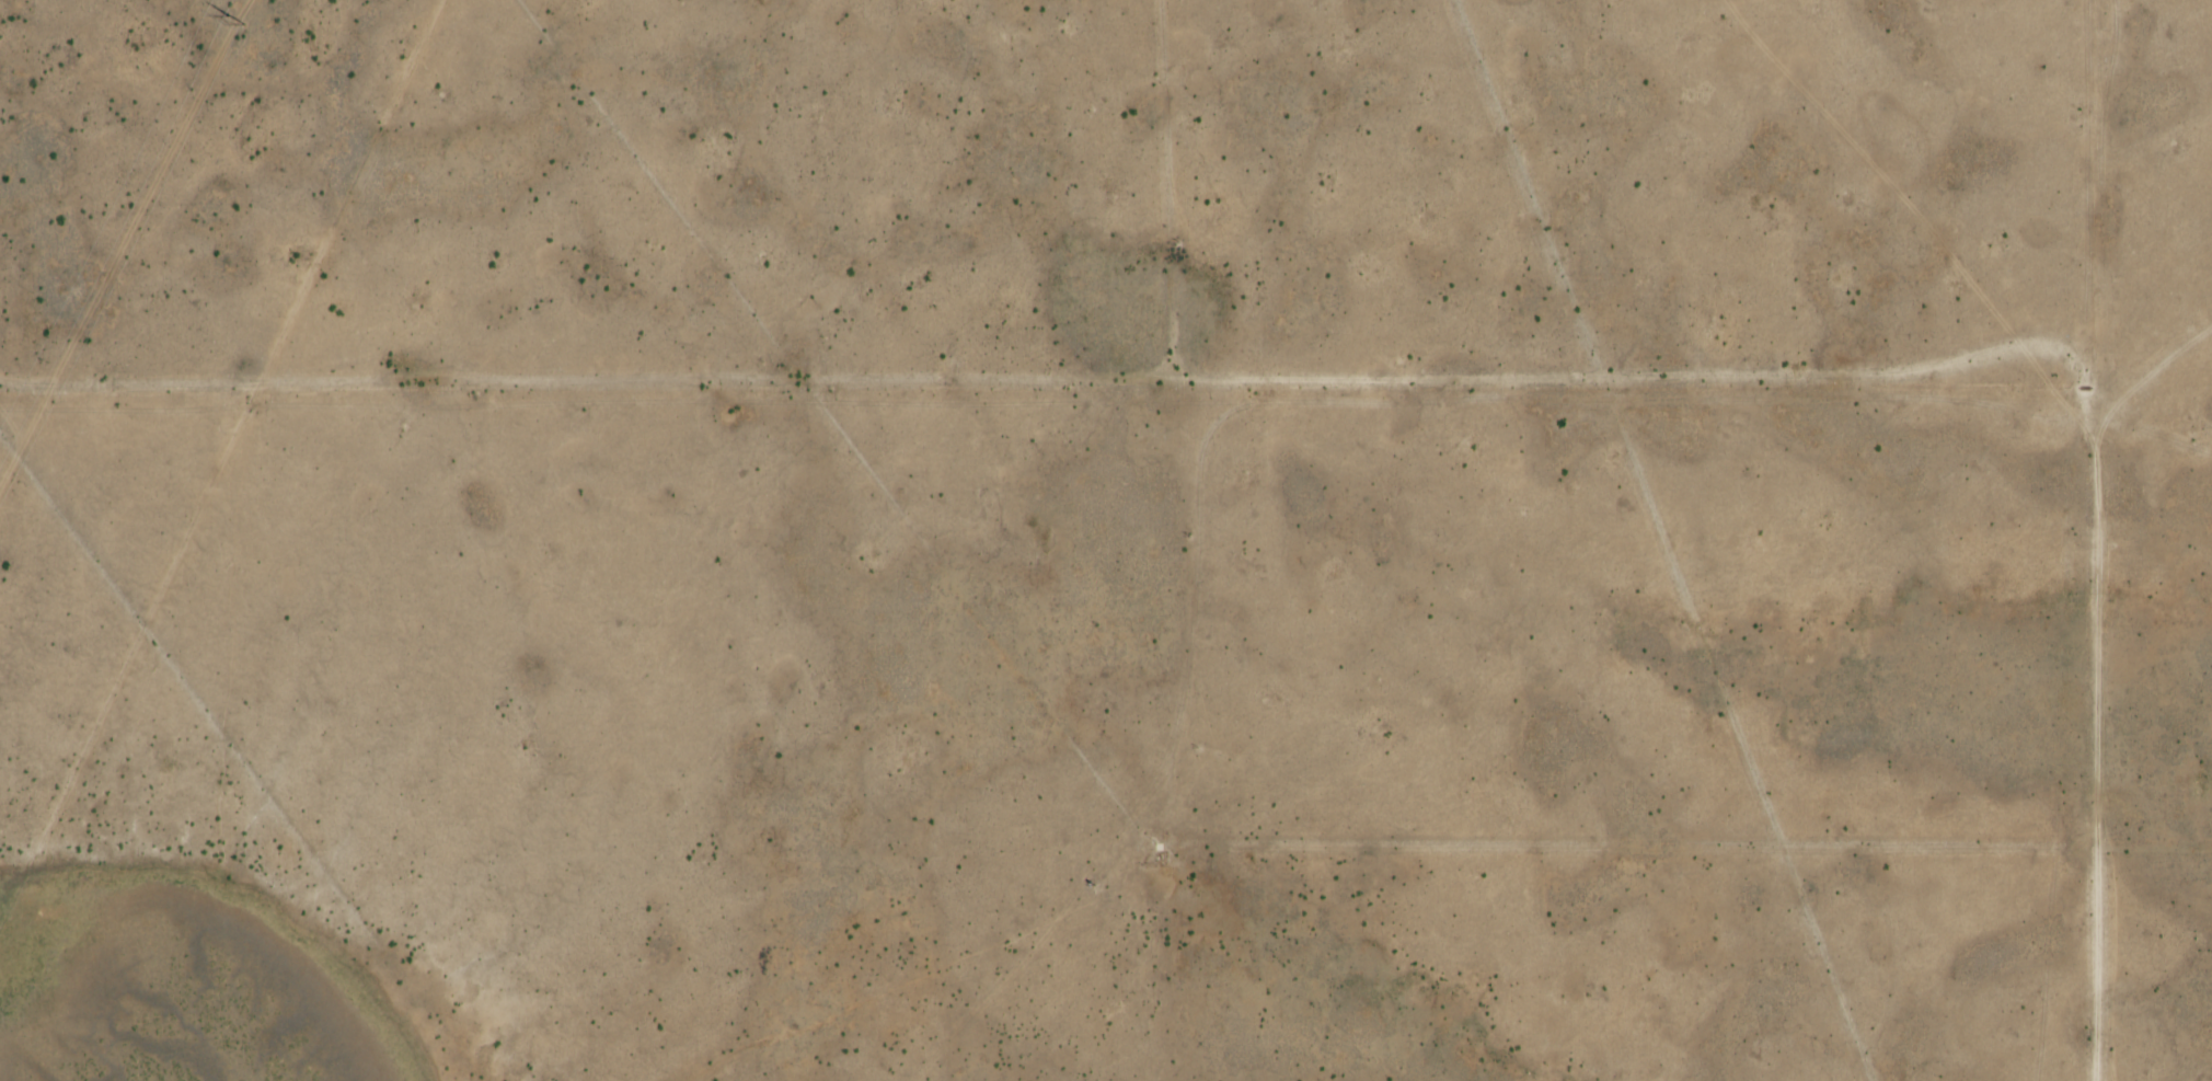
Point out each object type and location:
power tower: (242, 23)

